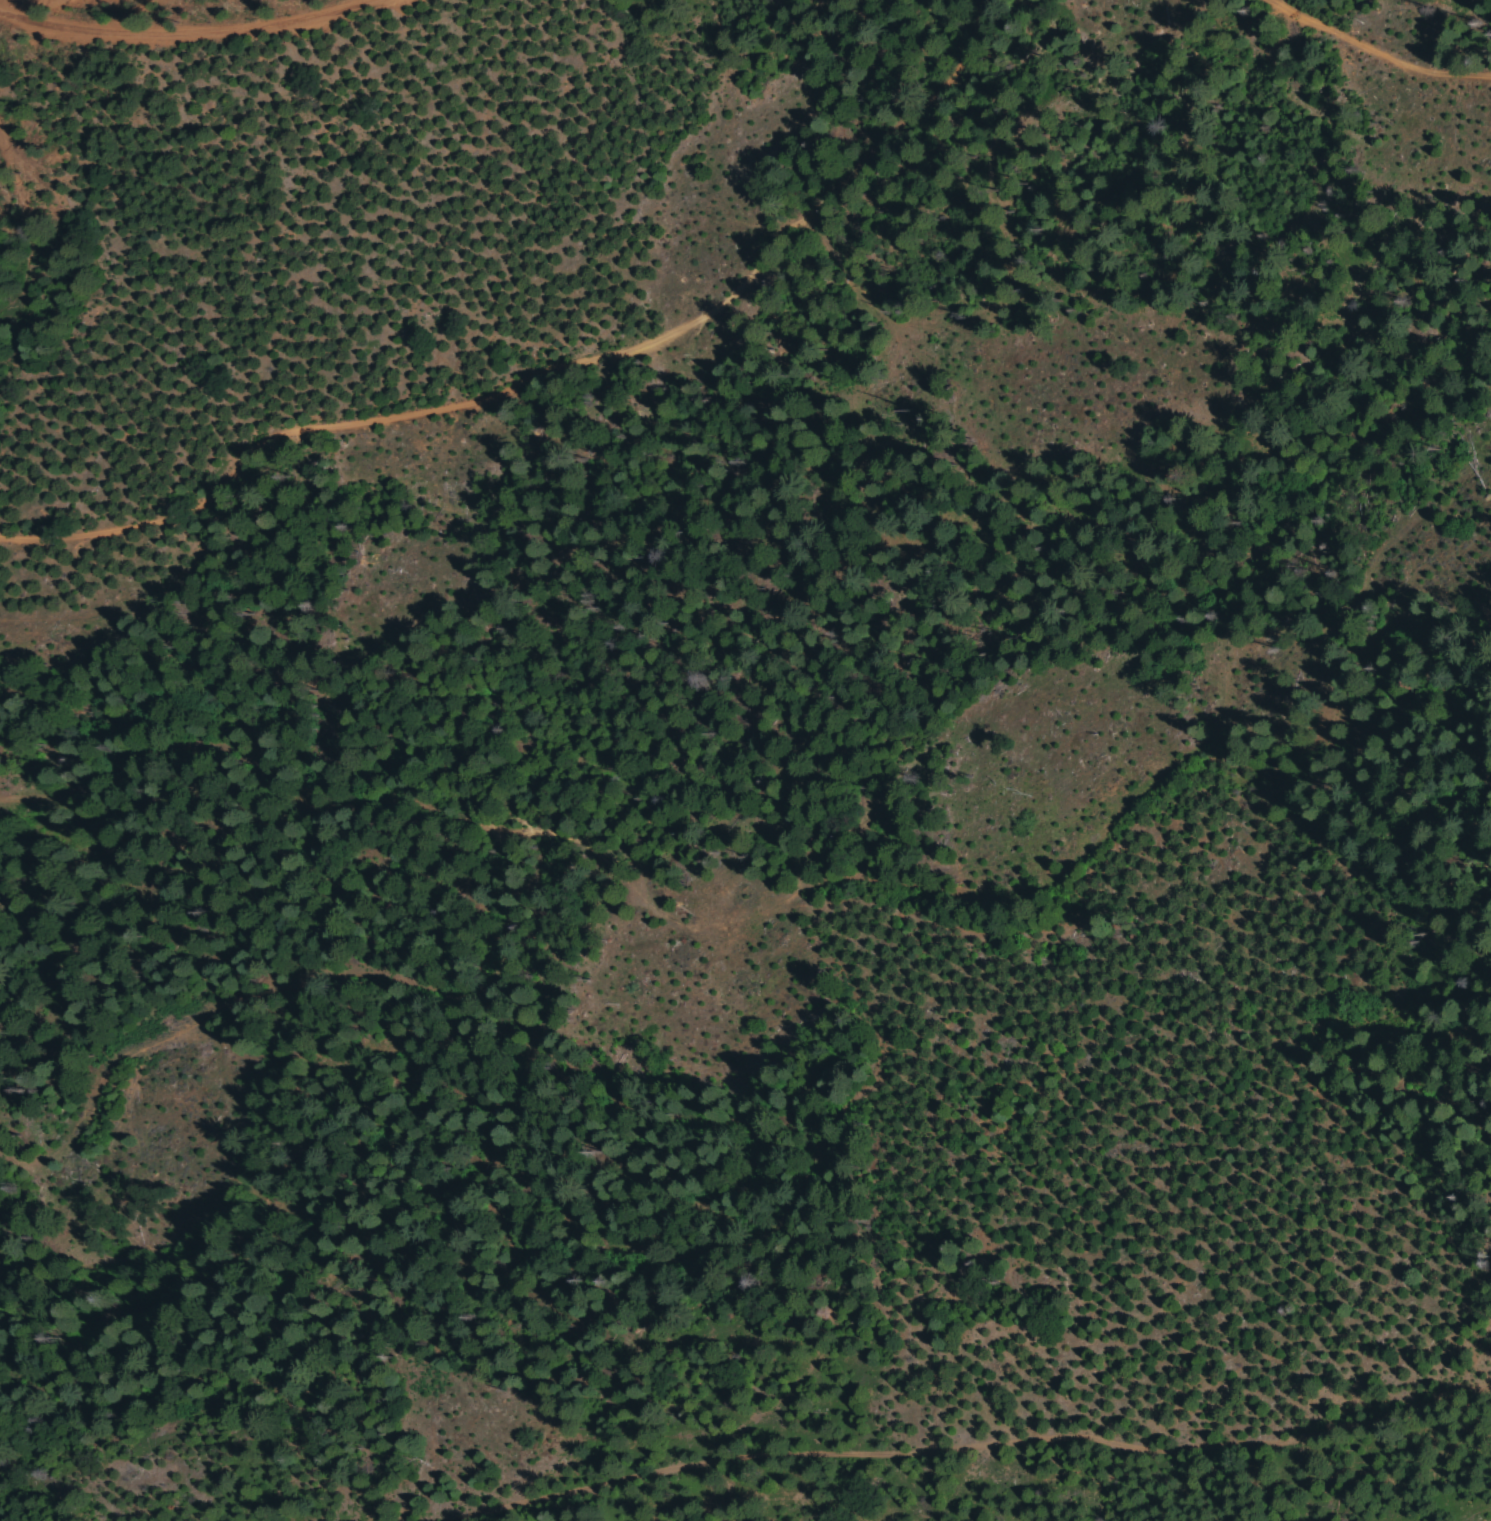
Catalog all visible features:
road: (181, 35)
road: (1395, 40)
road: (556, 367)
road: (808, 868)
road: (192, 929)
road: (968, 1439)

